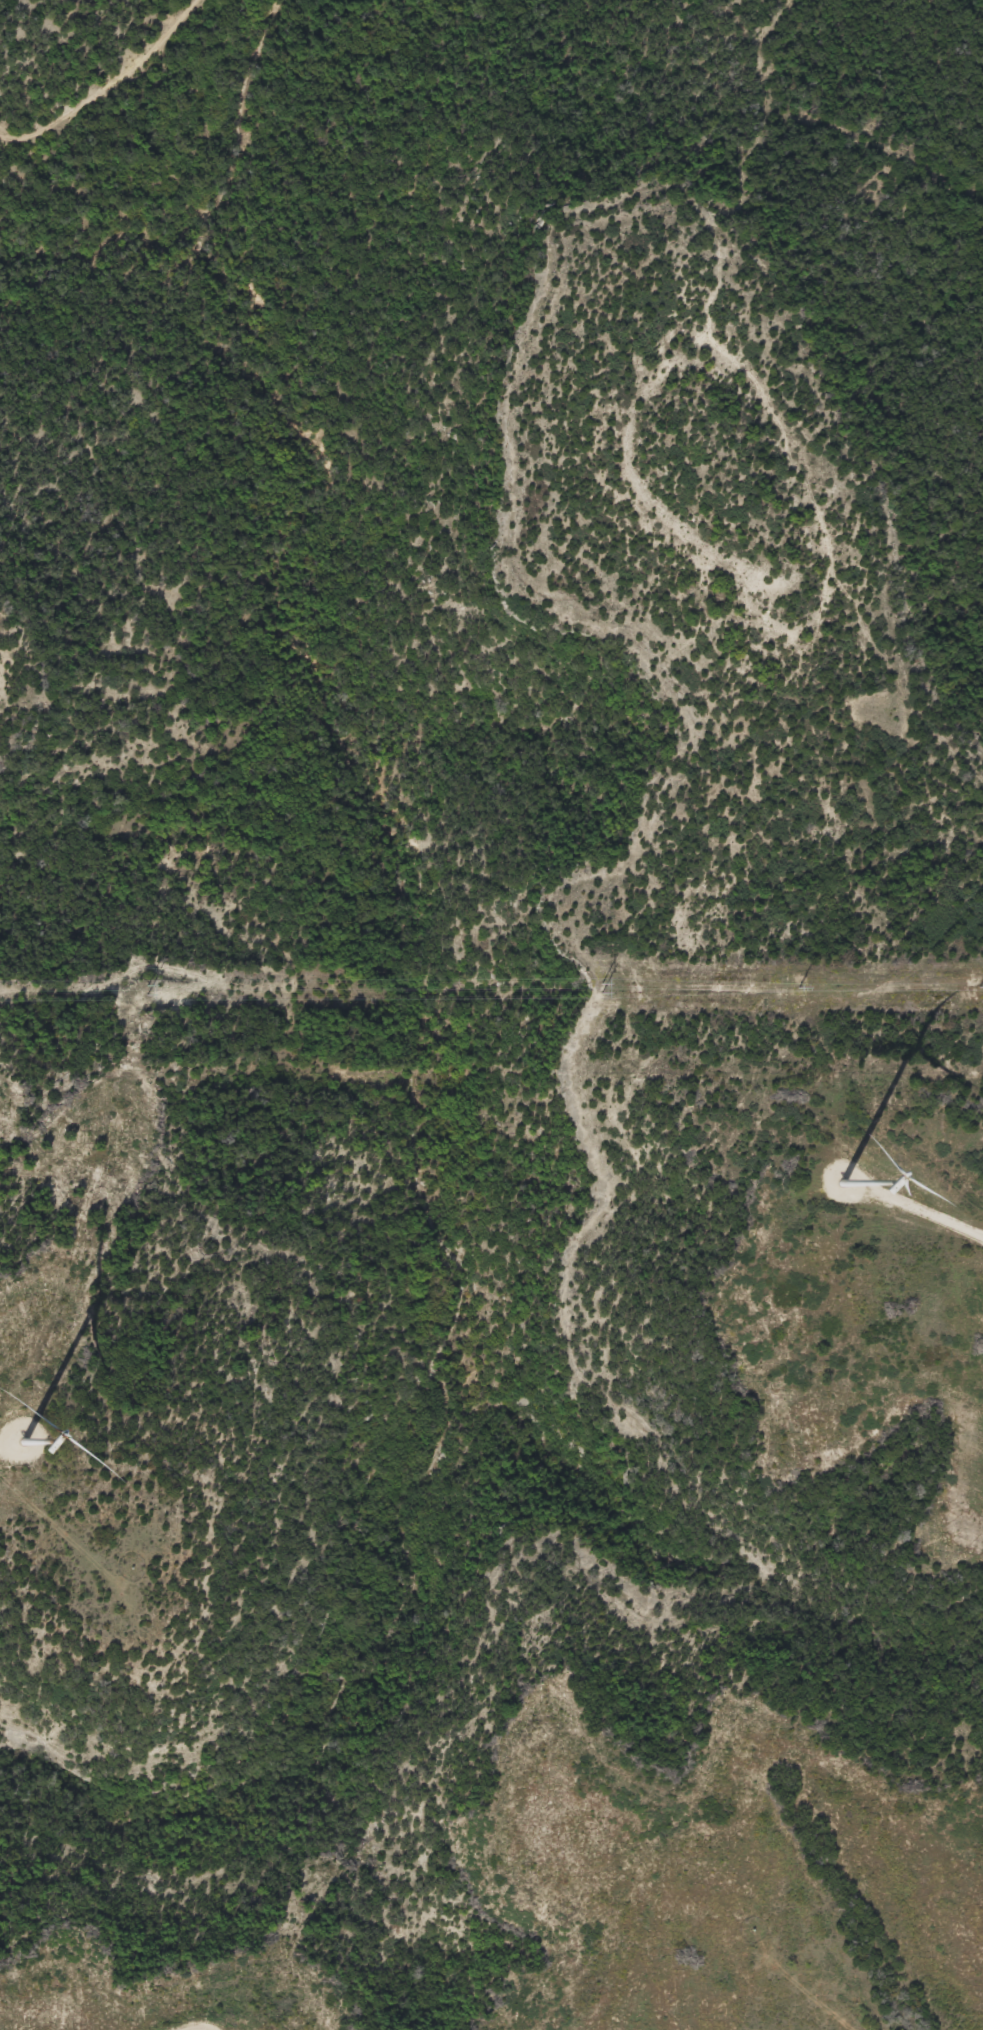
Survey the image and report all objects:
road: (107, 87)
power tower: (797, 986)
power tower: (979, 986)
power tower: (602, 987)
power tower: (147, 989)
wind turbine: (836, 1194)
wind turbine: (28, 1422)

